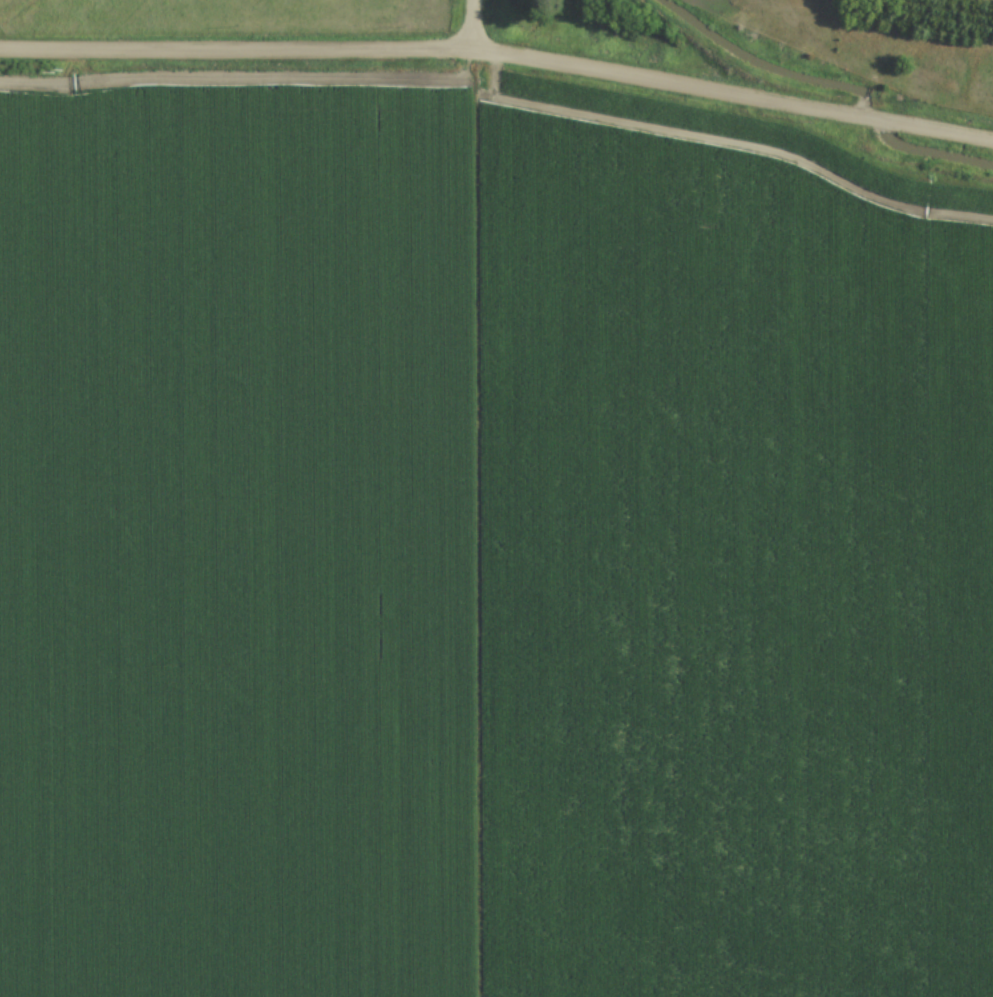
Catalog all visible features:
road: (474, 25)
road: (500, 54)
crop: (486, 552)

